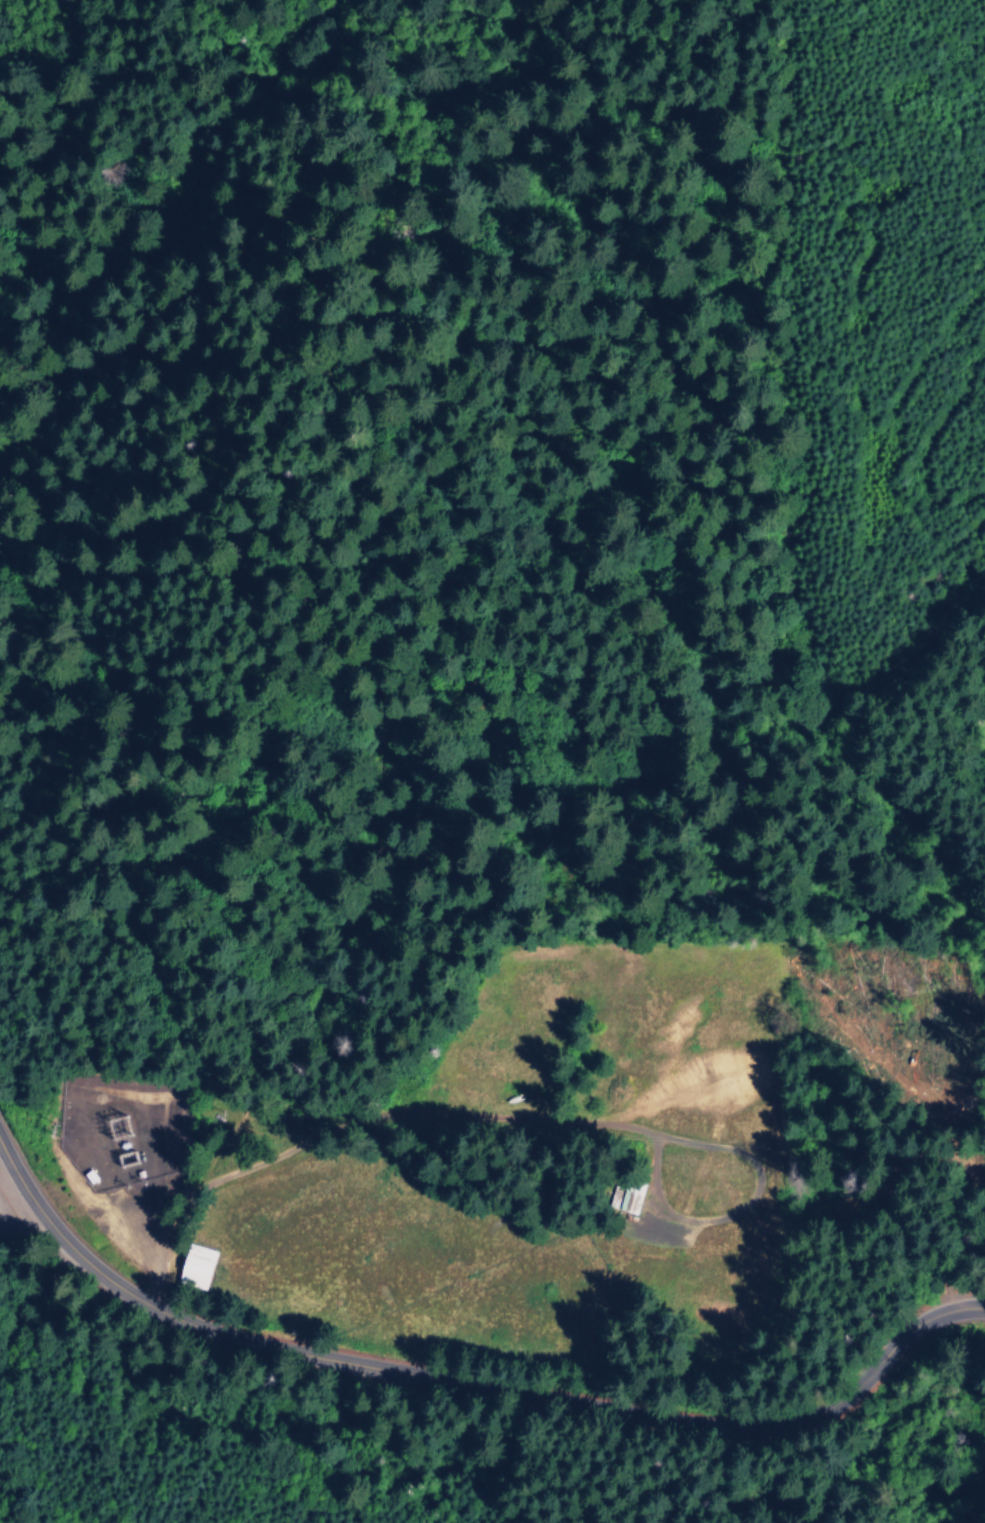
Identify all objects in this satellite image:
building: (621, 1201)
building: (193, 1265)
road: (112, 1381)
road: (470, 1381)

